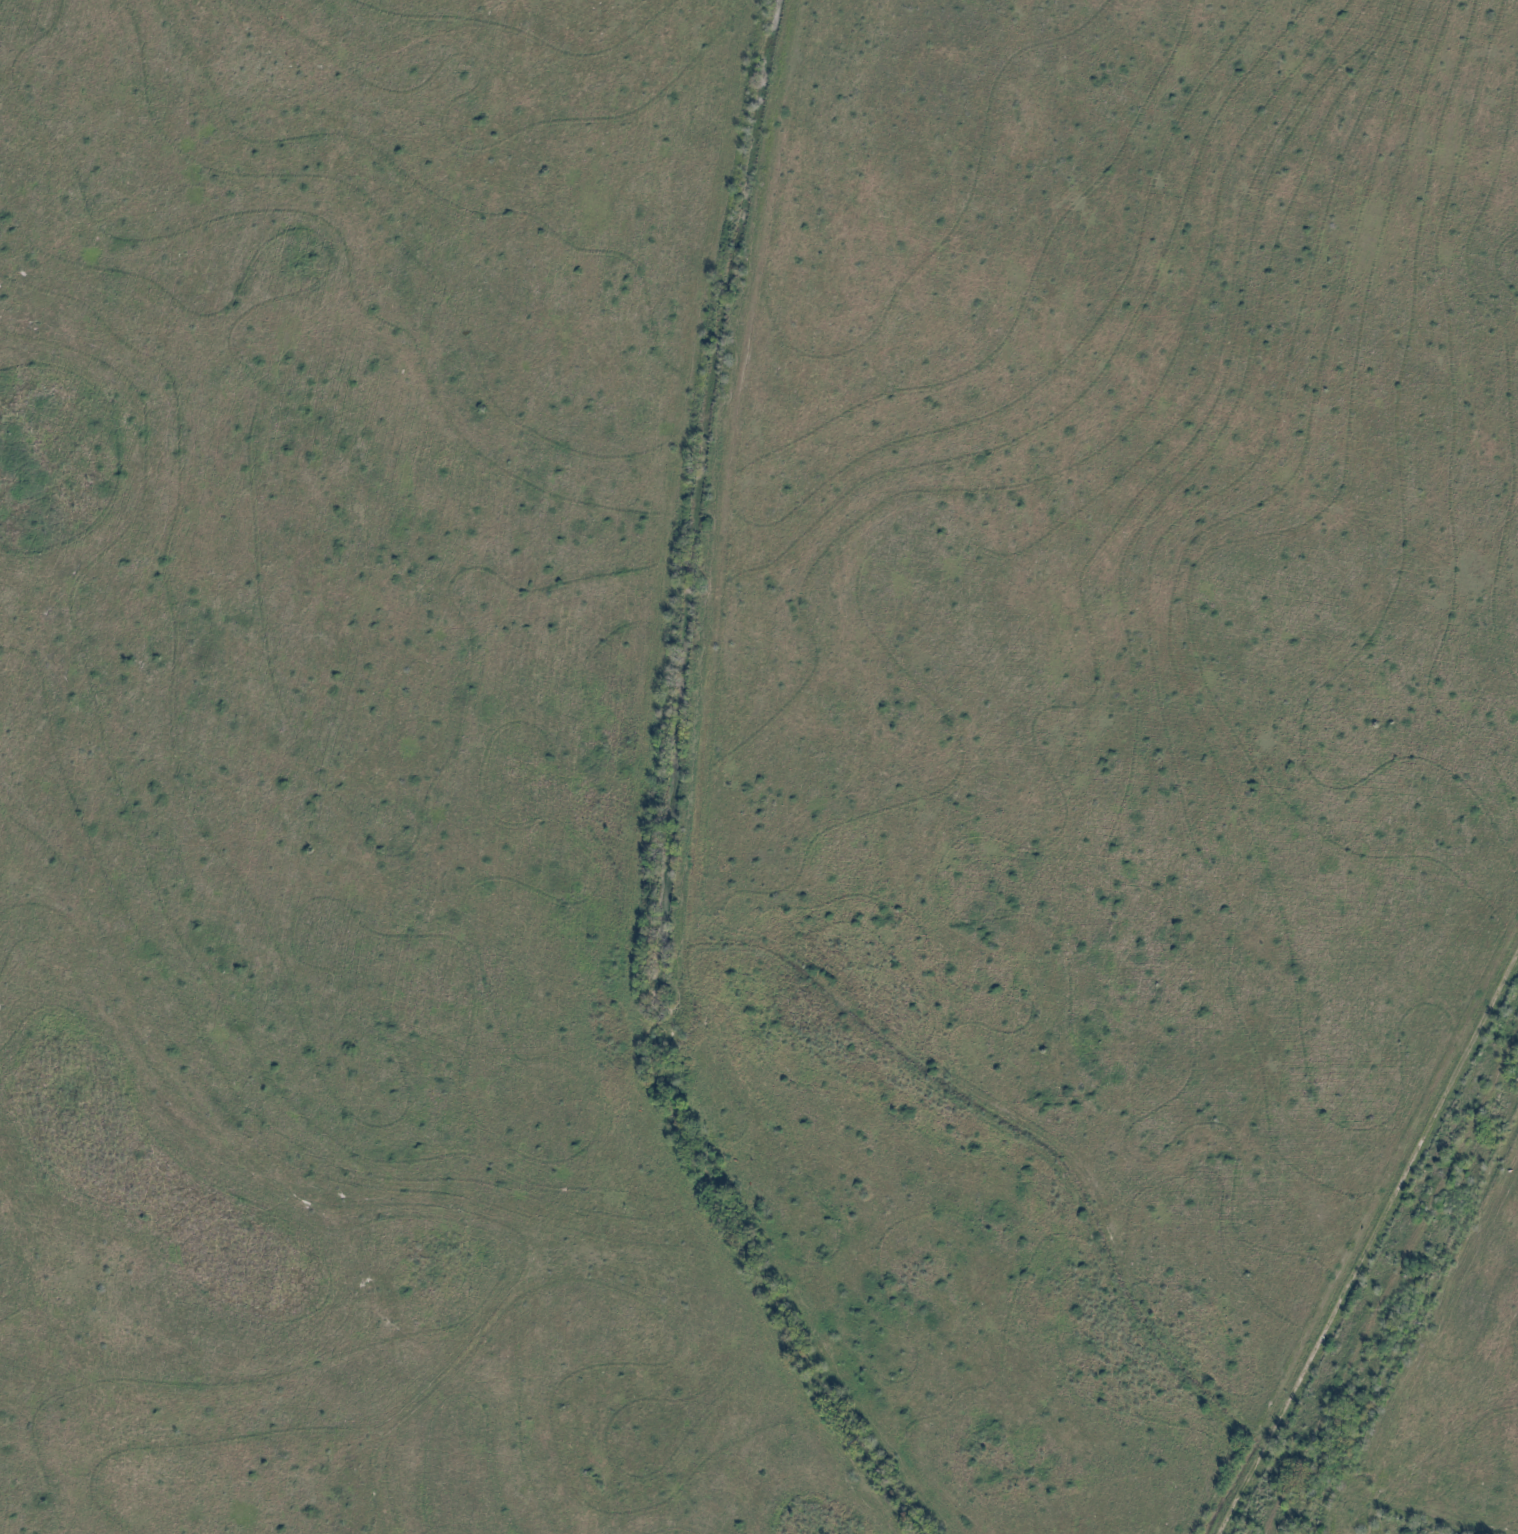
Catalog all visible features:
railway: (1391, 1287)

